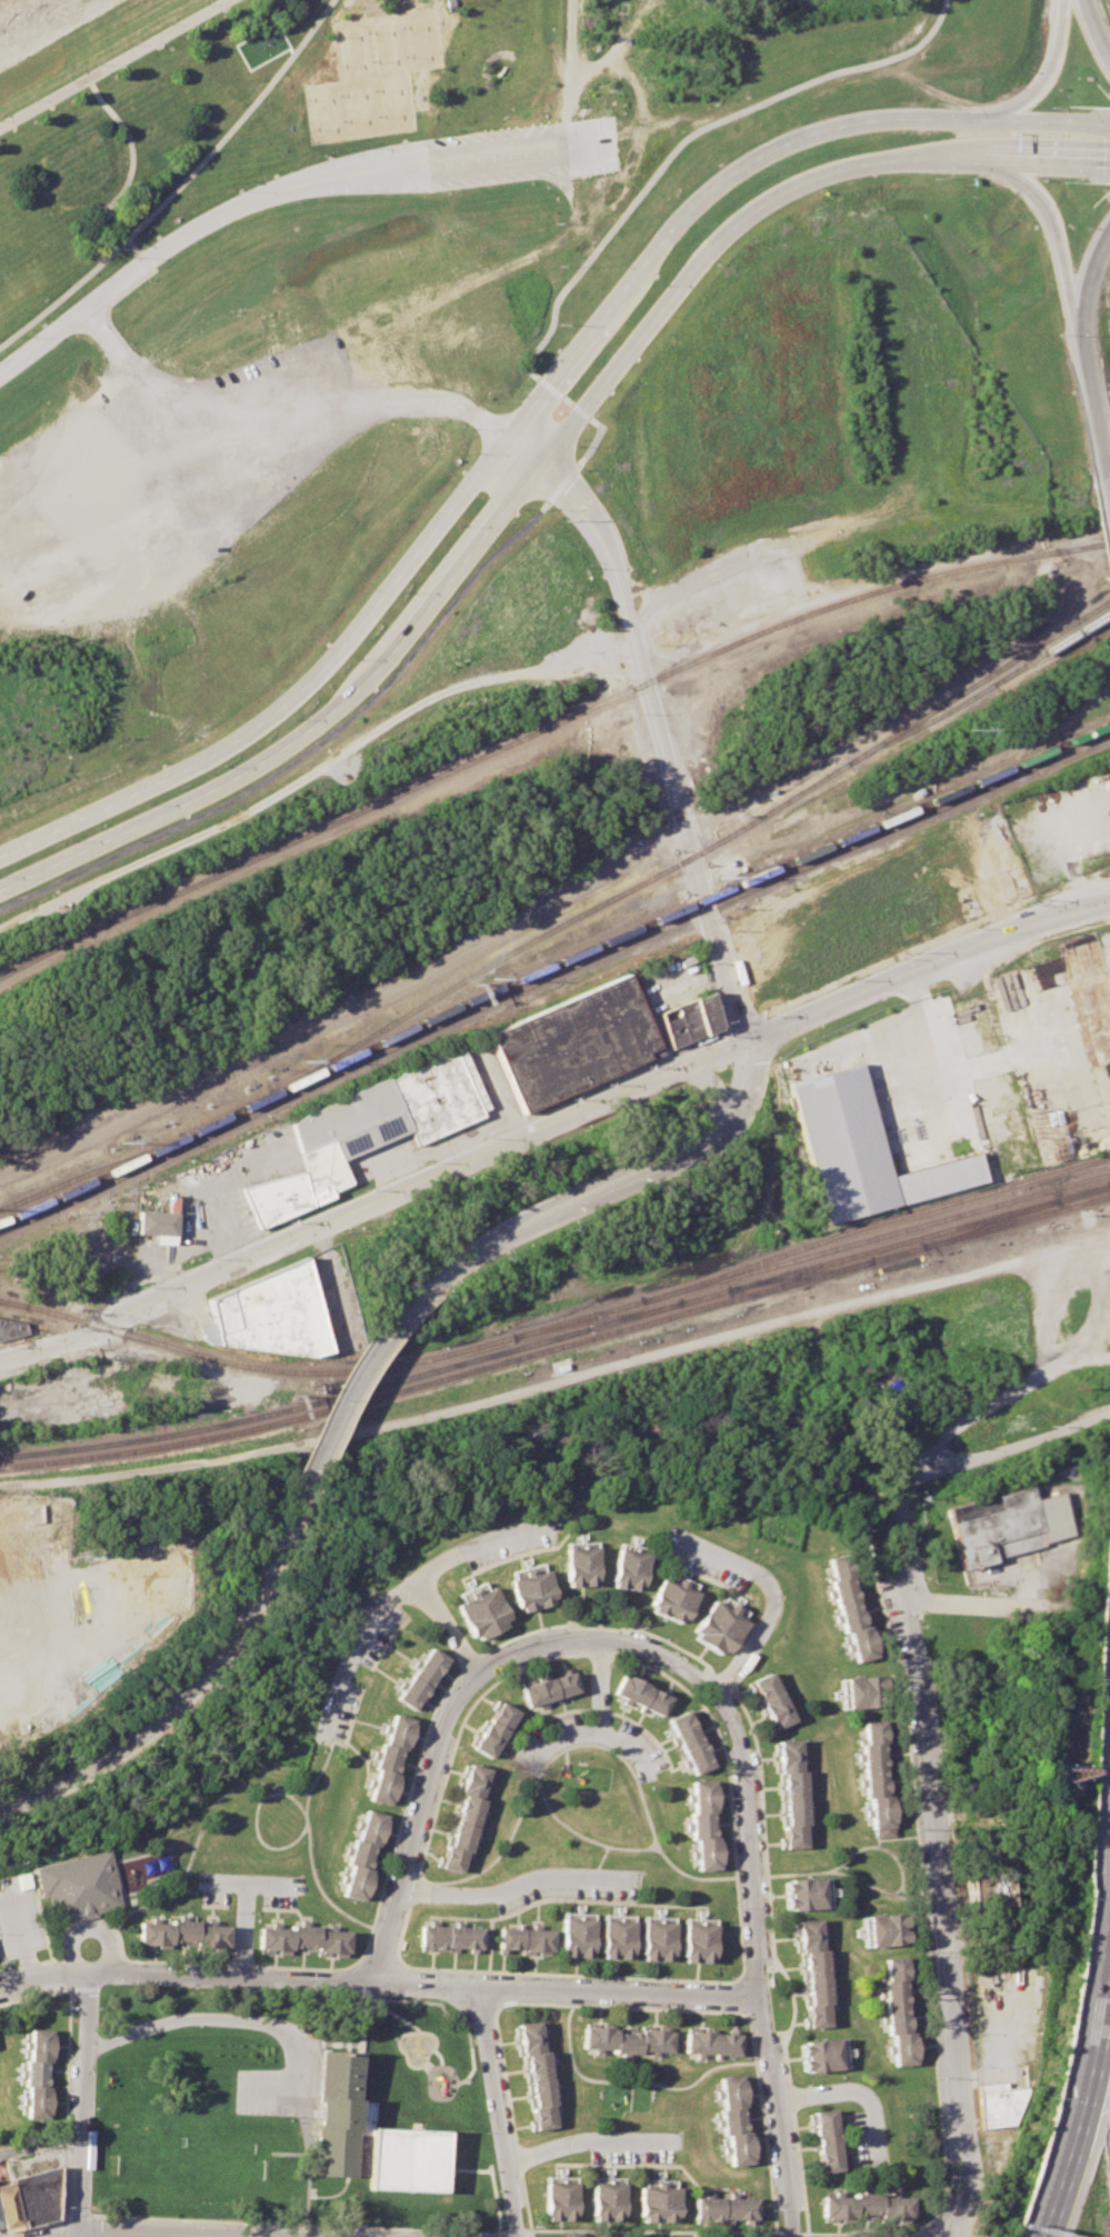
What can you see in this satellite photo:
street lamp: (203, 3)
street lamp: (431, 22)
street lamp: (168, 23)
road: (1098, 26)
street lamp: (401, 27)
street lamp: (366, 31)
street lamp: (314, 33)
street lamp: (332, 36)
road: (236, 42)
street lamp: (131, 44)
street lamp: (436, 51)
street lamp: (404, 56)
street lamp: (370, 61)
road: (113, 62)
street lamp: (96, 63)
street lamp: (337, 64)
road: (1043, 73)
park: (369, 76)
street lamp: (67, 80)
street lamp: (274, 87)
street lamp: (373, 91)
street lamp: (340, 94)
street lamp: (307, 99)
street lamp: (31, 100)
street lamp: (939, 102)
street lamp: (1053, 107)
street lamp: (377, 116)
park: (230, 117)
street lamp: (342, 120)
street lamp: (110, 121)
street lamp: (309, 129)
street lamp: (232, 137)
street lamp: (356, 149)
road: (1053, 159)
road: (748, 160)
road: (126, 173)
street lamp: (938, 178)
street lamp: (1066, 181)
road: (178, 183)
street lamp: (188, 186)
road: (279, 189)
street lamp: (234, 190)
street lamp: (103, 201)
street lamp: (143, 231)
road: (722, 233)
road: (1057, 246)
street lamp: (126, 257)
street lamp: (94, 276)
street lamp: (660, 283)
road: (1087, 292)
street lamp: (43, 319)
street lamp: (22, 336)
street lamp: (604, 353)
street lamp: (519, 396)
street lamp: (488, 402)
road: (1091, 413)
road: (271, 415)
street lamp: (468, 428)
street lamp: (576, 445)
road: (522, 450)
street lamp: (474, 452)
road: (573, 469)
street lamp: (583, 469)
road: (1106, 502)
street lamp: (521, 508)
street lamp: (551, 508)
street lamp: (458, 526)
railway: (1041, 553)
street lamp: (406, 591)
railway: (1058, 650)
street lamp: (350, 659)
railway: (983, 689)
road: (290, 692)
street lamp: (290, 718)
road: (310, 726)
railway: (901, 729)
road: (660, 740)
railway: (1067, 740)
railway: (1068, 753)
railway: (480, 756)
street lamp: (220, 766)
road: (313, 770)
street lamp: (142, 803)
railway: (926, 809)
street lamp: (66, 839)
railway: (757, 872)
road: (928, 967)
railway: (481, 968)
railway: (508, 982)
railway: (509, 993)
railway: (490, 1002)
road: (346, 1010)
building: (689, 1018)
building: (573, 1041)
road: (717, 1091)
building: (386, 1116)
railway: (194, 1136)
building: (861, 1150)
railway: (89, 1172)
road: (609, 1186)
building: (274, 1197)
road: (372, 1197)
railway: (874, 1222)
railway: (989, 1222)
building: (156, 1224)
railway: (800, 1275)
road: (332, 1280)
railway: (13, 1302)
railway: (13, 1304)
railway: (72, 1307)
building: (268, 1314)
railway: (599, 1319)
railway: (570, 1320)
building: (11, 1329)
railway: (558, 1336)
railway: (558, 1347)
building: (167, 1386)
road: (347, 1388)
railway: (293, 1394)
road: (991, 1401)
road: (1003, 1447)
building: (1002, 1525)
building: (578, 1565)
building: (627, 1569)
building: (530, 1590)
road: (397, 1596)
road: (764, 1597)
building: (671, 1600)
road: (980, 1601)
building: (849, 1606)
building: (480, 1612)
building: (718, 1627)
road: (444, 1630)
building: (420, 1678)
road: (598, 1686)
road: (190, 1687)
building: (548, 1688)
road: (464, 1691)
building: (860, 1691)
building: (641, 1695)
building: (770, 1699)
building: (493, 1729)
road: (591, 1731)
building: (691, 1742)
building: (390, 1759)
building: (877, 1774)
building: (792, 1794)
building: (466, 1818)
building: (706, 1824)
building: (364, 1855)
road: (937, 1861)
road: (243, 1884)
road: (511, 1885)
building: (76, 1887)
building: (988, 1888)
building: (803, 1893)
road: (88, 1929)
building: (886, 1929)
road: (241, 1930)
building: (181, 1934)
building: (576, 1936)
road: (18, 1937)
building: (302, 1938)
building: (452, 1938)
building: (616, 1938)
building: (524, 1940)
building: (657, 1940)
building: (698, 1943)
road: (759, 1973)
building: (813, 1973)
road: (379, 1984)
building: (899, 2010)
road: (740, 2013)
road: (251, 2019)
building: (626, 2039)
building: (711, 2043)
building: (818, 2055)
building: (37, 2074)
building: (537, 2074)
road: (634, 2080)
parking lot: (272, 2091)
road: (849, 2091)
road: (64, 2095)
road: (1080, 2101)
road: (81, 2103)
building: (1001, 2103)
park: (290, 2110)
road: (496, 2111)
building: (334, 2113)
building: (734, 2119)
road: (586, 2139)
building: (826, 2139)
park: (189, 2163)
building: (34, 2196)
building: (559, 2200)
building: (607, 2200)
building: (658, 2204)
building: (8, 2206)
building: (864, 2206)
building: (723, 2209)
road: (81, 2214)
road: (298, 2224)
road: (32, 2226)
road: (1042, 2228)
road: (158, 2231)
road: (517, 2231)
road: (76, 2235)
road: (216, 2236)
road: (940, 2236)

